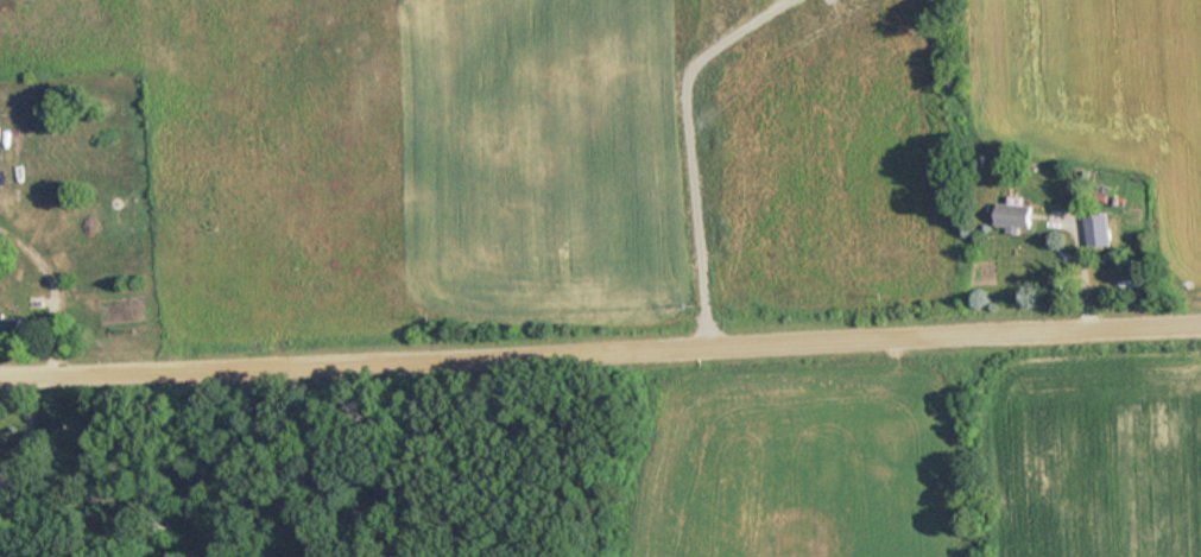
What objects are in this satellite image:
building: (1012, 217)
road: (57, 279)
building: (11, 328)
road: (600, 344)

